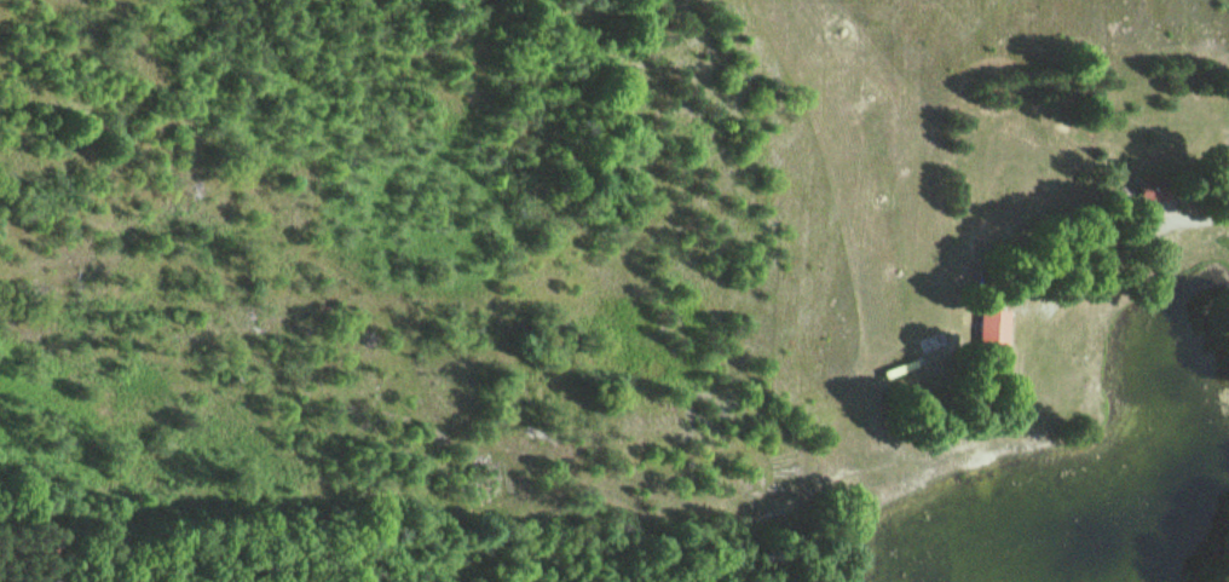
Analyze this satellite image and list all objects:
building: (1148, 185)
road: (1165, 213)
road: (1117, 255)
building: (988, 324)

